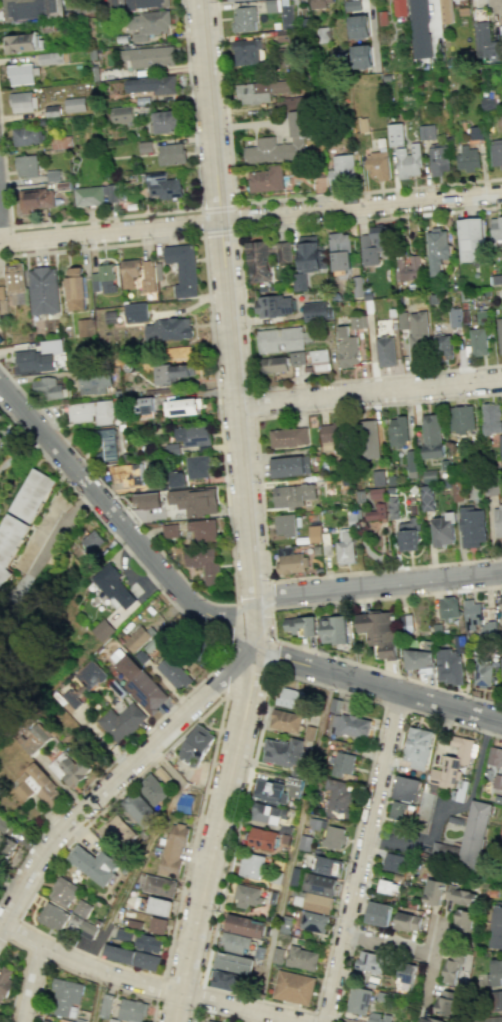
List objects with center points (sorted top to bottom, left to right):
building: (227, 0)
building: (320, 3)
building: (135, 4)
building: (400, 8)
building: (31, 9)
building: (446, 11)
building: (244, 19)
building: (359, 27)
building: (419, 29)
road: (373, 30)
building: (22, 43)
building: (487, 43)
building: (248, 51)
building: (362, 56)
building: (50, 58)
building: (22, 74)
building: (151, 84)
building: (261, 91)
building: (22, 101)
building: (75, 104)
building: (122, 115)
building: (165, 122)
building: (426, 132)
building: (396, 134)
building: (27, 136)
building: (299, 136)
building: (496, 153)
building: (171, 154)
building: (467, 158)
building: (408, 160)
building: (438, 160)
building: (378, 165)
building: (26, 166)
building: (342, 169)
building: (266, 179)
building: (162, 186)
building: (95, 195)
building: (36, 200)
road: (266, 201)
road: (218, 207)
road: (157, 212)
road: (250, 216)
road: (237, 218)
road: (201, 221)
road: (5, 228)
building: (496, 230)
road: (220, 233)
building: (470, 239)
building: (373, 245)
building: (437, 249)
building: (340, 251)
building: (283, 253)
building: (307, 259)
building: (258, 261)
building: (183, 268)
building: (408, 268)
building: (129, 271)
building: (147, 276)
building: (13, 278)
building: (103, 279)
building: (501, 285)
building: (75, 288)
building: (42, 290)
road: (243, 303)
building: (273, 305)
building: (317, 311)
building: (135, 312)
building: (454, 317)
road: (229, 320)
building: (357, 322)
building: (86, 327)
building: (168, 329)
building: (499, 334)
building: (418, 335)
building: (282, 339)
building: (478, 341)
building: (443, 346)
building: (347, 347)
building: (385, 351)
building: (37, 357)
building: (297, 358)
building: (320, 360)
building: (274, 364)
building: (171, 373)
building: (95, 381)
building: (46, 389)
road: (369, 391)
road: (252, 403)
building: (145, 405)
building: (182, 407)
building: (90, 412)
building: (0, 417)
building: (490, 418)
building: (460, 419)
building: (397, 431)
building: (333, 432)
building: (192, 435)
building: (368, 435)
building: (287, 436)
building: (431, 436)
building: (1, 440)
building: (106, 445)
building: (500, 447)
building: (410, 464)
building: (197, 466)
building: (289, 466)
building: (134, 473)
building: (429, 476)
building: (377, 477)
building: (175, 478)
road: (224, 486)
road: (260, 491)
building: (292, 494)
building: (377, 494)
building: (31, 495)
building: (427, 498)
building: (195, 501)
building: (148, 502)
building: (0, 505)
building: (393, 507)
building: (375, 512)
building: (497, 520)
building: (284, 525)
building: (471, 527)
building: (442, 529)
building: (170, 531)
building: (204, 531)
building: (314, 533)
road: (111, 535)
building: (408, 535)
building: (91, 539)
building: (9, 540)
building: (344, 547)
road: (37, 559)
building: (288, 561)
building: (205, 564)
road: (377, 584)
building: (113, 585)
road: (269, 595)
building: (501, 606)
building: (448, 607)
building: (471, 613)
road: (208, 617)
building: (405, 623)
road: (232, 625)
building: (300, 625)
road: (271, 627)
building: (103, 630)
building: (332, 630)
building: (437, 630)
building: (488, 631)
building: (378, 632)
building: (137, 640)
building: (193, 641)
building: (460, 645)
road: (272, 655)
building: (420, 659)
building: (501, 664)
building: (448, 667)
building: (482, 671)
building: (175, 674)
building: (91, 675)
building: (142, 685)
road: (226, 692)
park: (27, 696)
building: (73, 698)
building: (291, 699)
road: (380, 702)
road: (394, 707)
building: (123, 721)
building: (286, 721)
building: (352, 726)
building: (34, 740)
building: (197, 746)
building: (419, 747)
building: (284, 752)
building: (495, 756)
road: (210, 762)
building: (343, 764)
building: (453, 765)
road: (106, 767)
building: (70, 769)
road: (119, 774)
building: (163, 775)
building: (497, 780)
building: (38, 786)
building: (295, 786)
building: (153, 789)
building: (407, 789)
building: (271, 792)
building: (340, 799)
building: (185, 802)
road: (447, 806)
building: (140, 810)
building: (403, 812)
building: (269, 813)
road: (380, 817)
building: (317, 822)
building: (4, 824)
building: (116, 830)
road: (215, 832)
building: (475, 835)
building: (335, 837)
building: (264, 840)
building: (304, 841)
road: (293, 842)
building: (6, 847)
building: (174, 850)
road: (145, 852)
road: (362, 857)
building: (395, 862)
building: (97, 864)
building: (252, 865)
building: (327, 866)
building: (0, 874)
building: (320, 884)
building: (160, 886)
building: (388, 886)
building: (64, 891)
building: (434, 892)
building: (248, 895)
building: (460, 896)
building: (318, 903)
building: (156, 905)
building: (83, 909)
building: (378, 913)
building: (52, 918)
building: (465, 920)
building: (315, 922)
building: (407, 922)
building: (285, 923)
building: (135, 924)
building: (157, 925)
road: (1, 926)
building: (246, 926)
building: (86, 928)
building: (496, 928)
road: (12, 930)
building: (125, 935)
building: (149, 943)
building: (236, 943)
road: (404, 948)
building: (260, 950)
building: (279, 955)
road: (36, 956)
building: (456, 956)
building: (132, 957)
building: (303, 959)
building: (370, 962)
building: (235, 963)
building: (452, 972)
building: (492, 975)
road: (21, 976)
road: (82, 976)
building: (405, 978)
road: (423, 978)
building: (227, 980)
building: (6, 982)
road: (31, 983)
road: (150, 984)
building: (294, 988)
building: (67, 996)
road: (97, 996)
building: (359, 1001)
building: (494, 1001)
building: (106, 1006)
road: (195, 1006)
building: (446, 1006)
building: (134, 1010)
road: (221, 1012)
road: (253, 1016)
road: (312, 1017)
building: (378, 1017)
building: (0, 1019)
building: (434, 1019)
building: (115, 1020)
building: (491, 1020)
building: (1, 1021)
building: (46, 1021)
building: (211, 1021)
building: (419, 1021)

